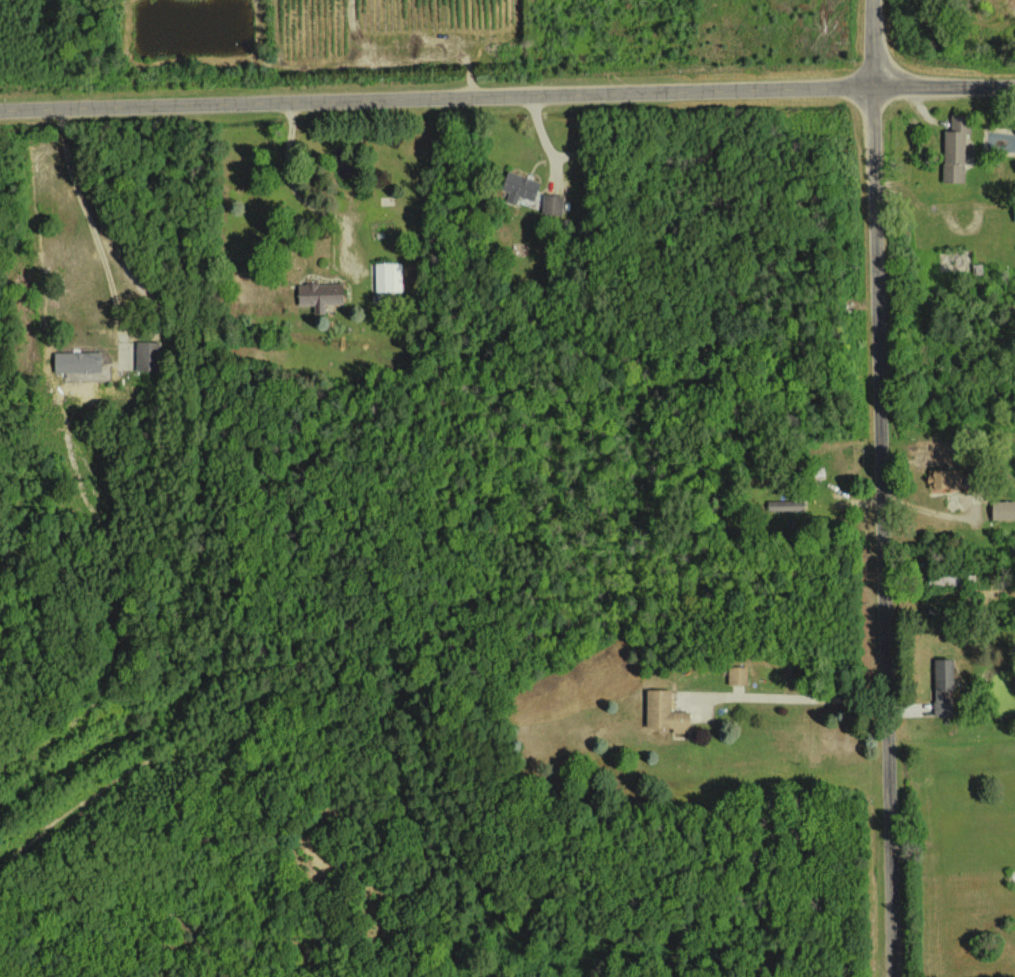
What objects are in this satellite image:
road: (507, 99)
building: (954, 148)
building: (519, 187)
road: (300, 192)
building: (551, 204)
building: (1014, 215)
road: (89, 217)
building: (387, 276)
building: (318, 294)
building: (147, 355)
building: (81, 366)
building: (941, 479)
road: (880, 488)
building: (786, 508)
building: (1001, 509)
building: (738, 675)
building: (941, 685)
road: (801, 696)
building: (663, 712)

